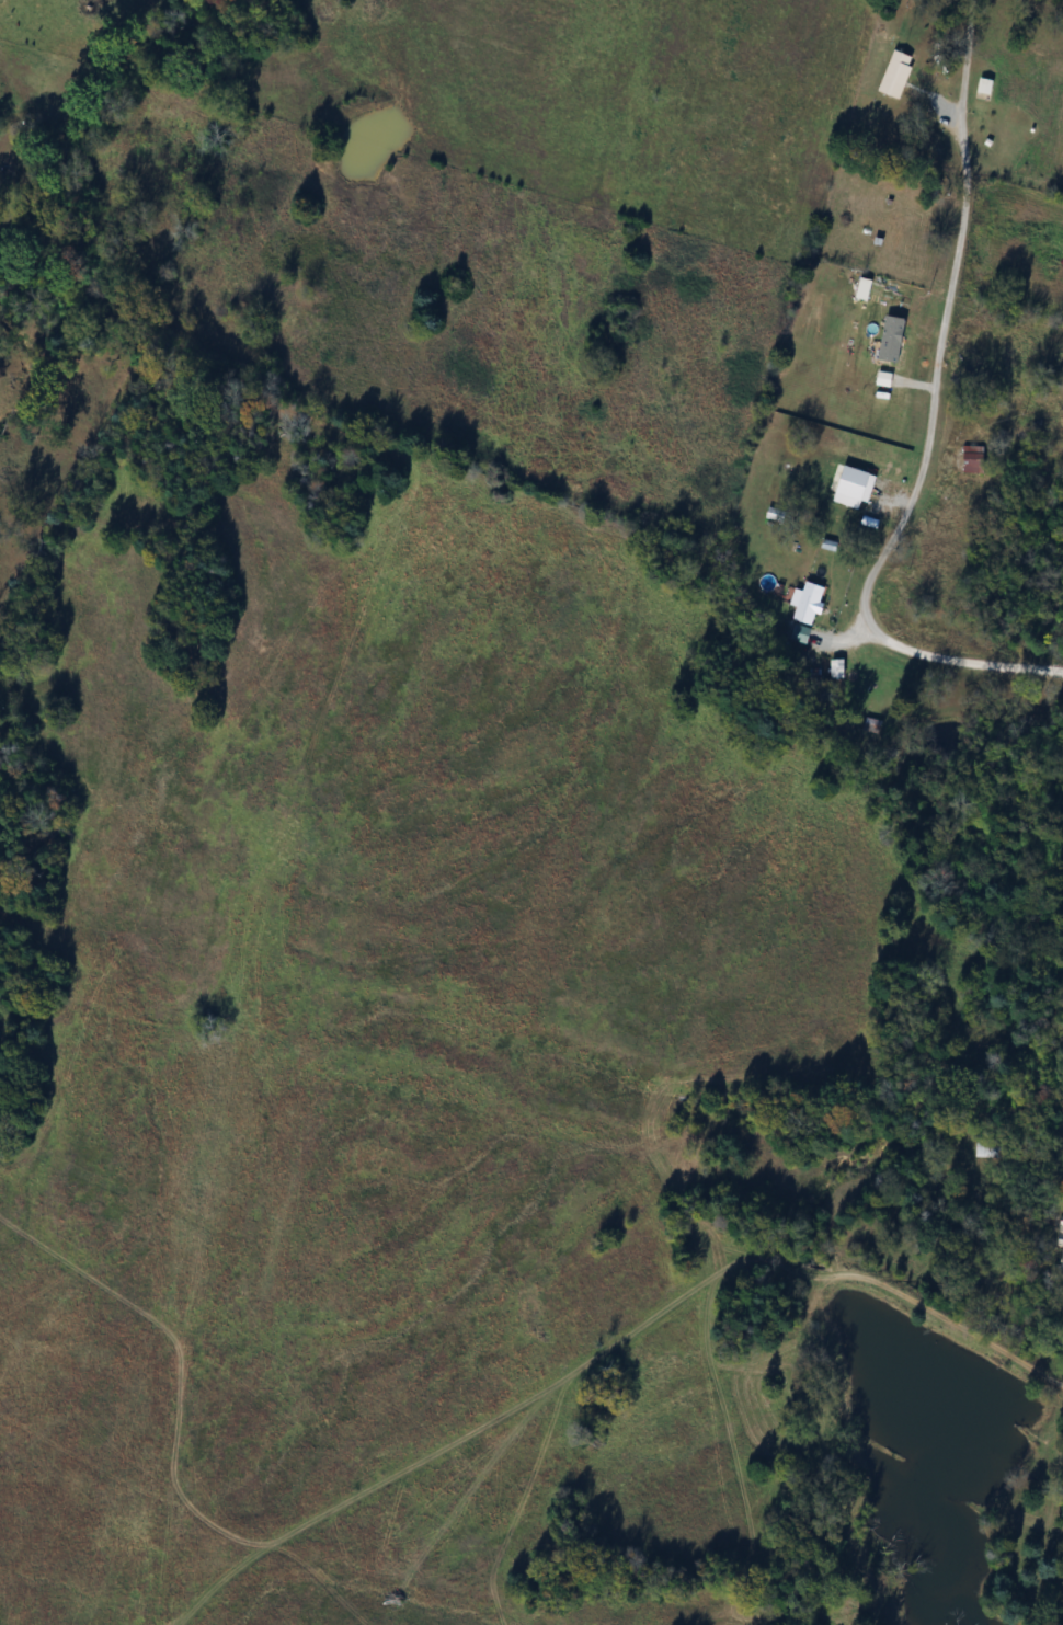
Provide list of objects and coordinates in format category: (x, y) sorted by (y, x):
road: (965, 37)
building: (893, 75)
building: (985, 90)
building: (893, 240)
road: (925, 458)
building: (972, 459)
building: (774, 490)
building: (809, 618)
building: (838, 668)
building: (988, 1148)
building: (1059, 1240)

